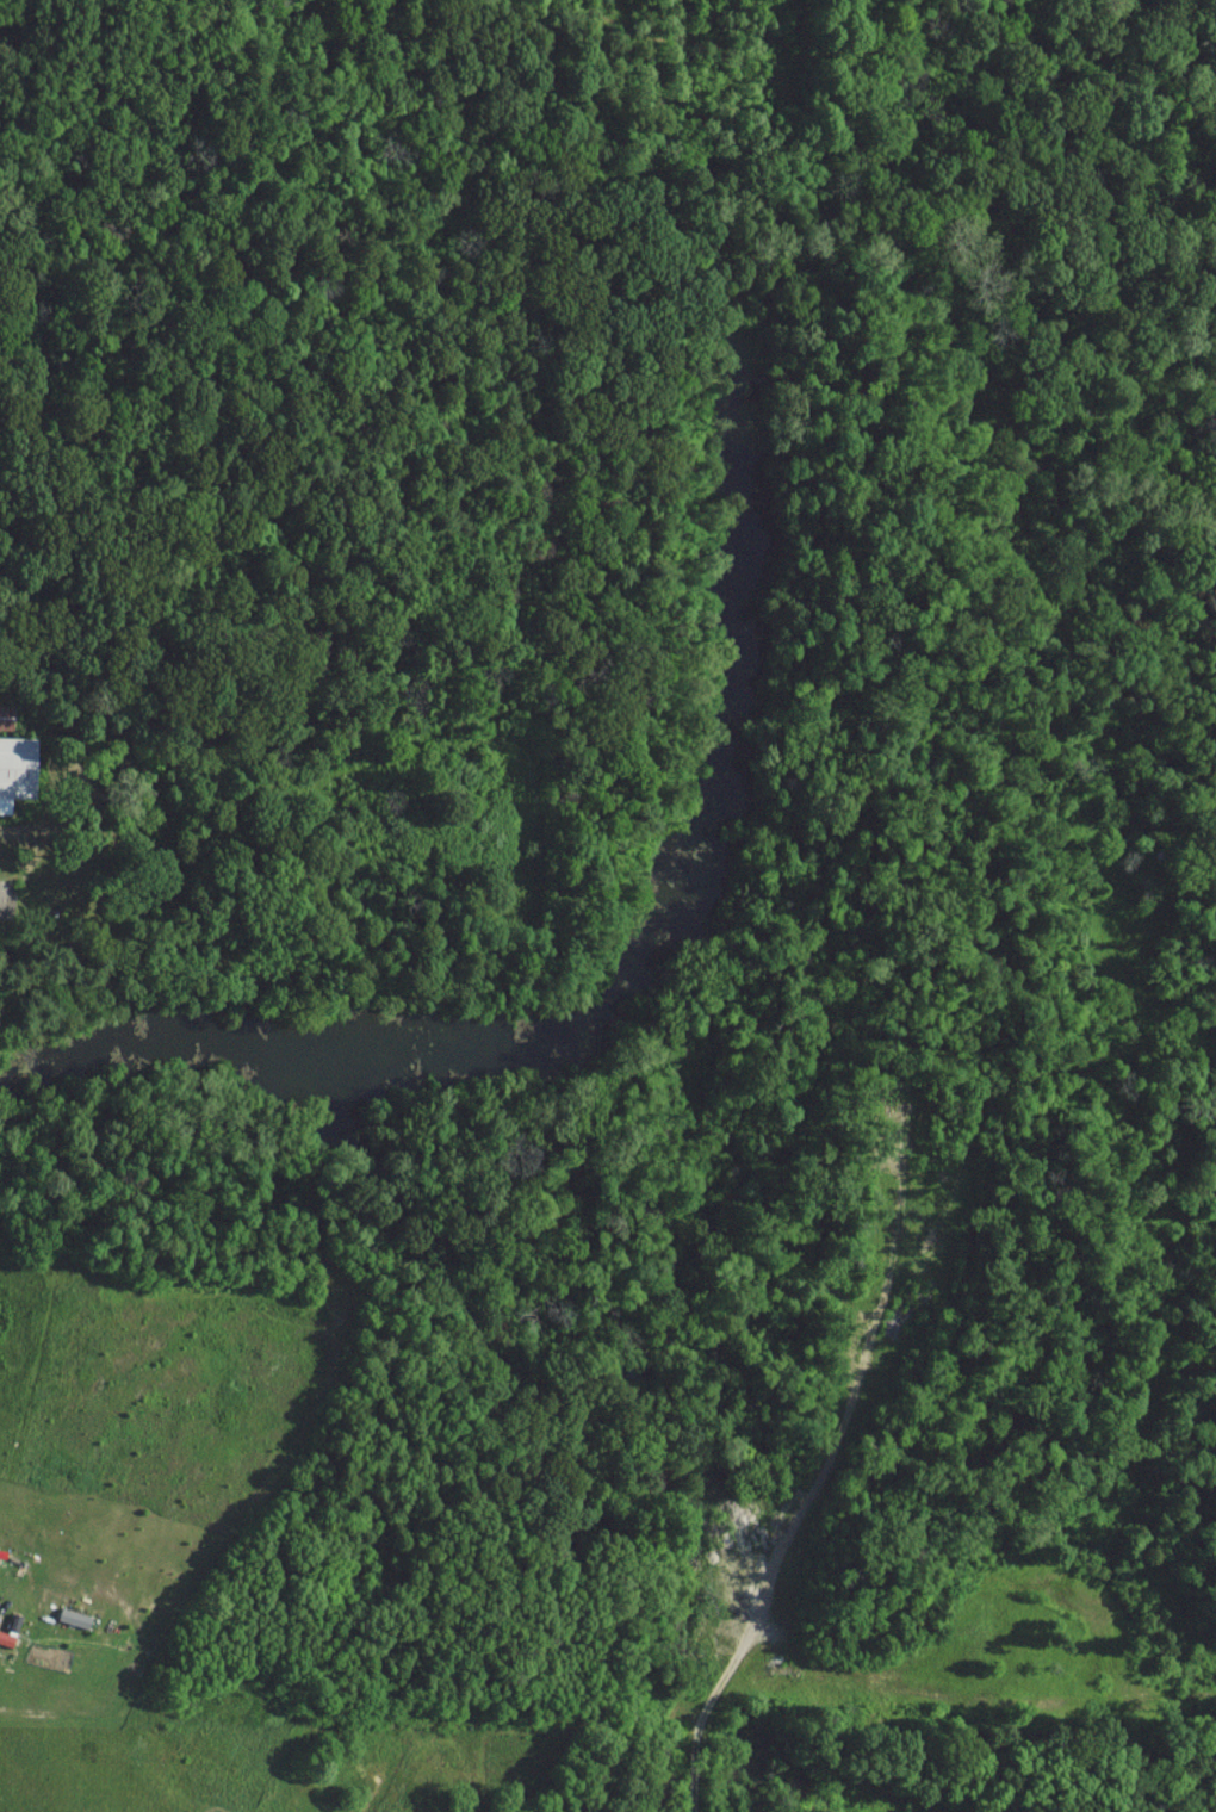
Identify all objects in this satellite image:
building: (17, 769)
building: (74, 1616)
road: (701, 1719)

